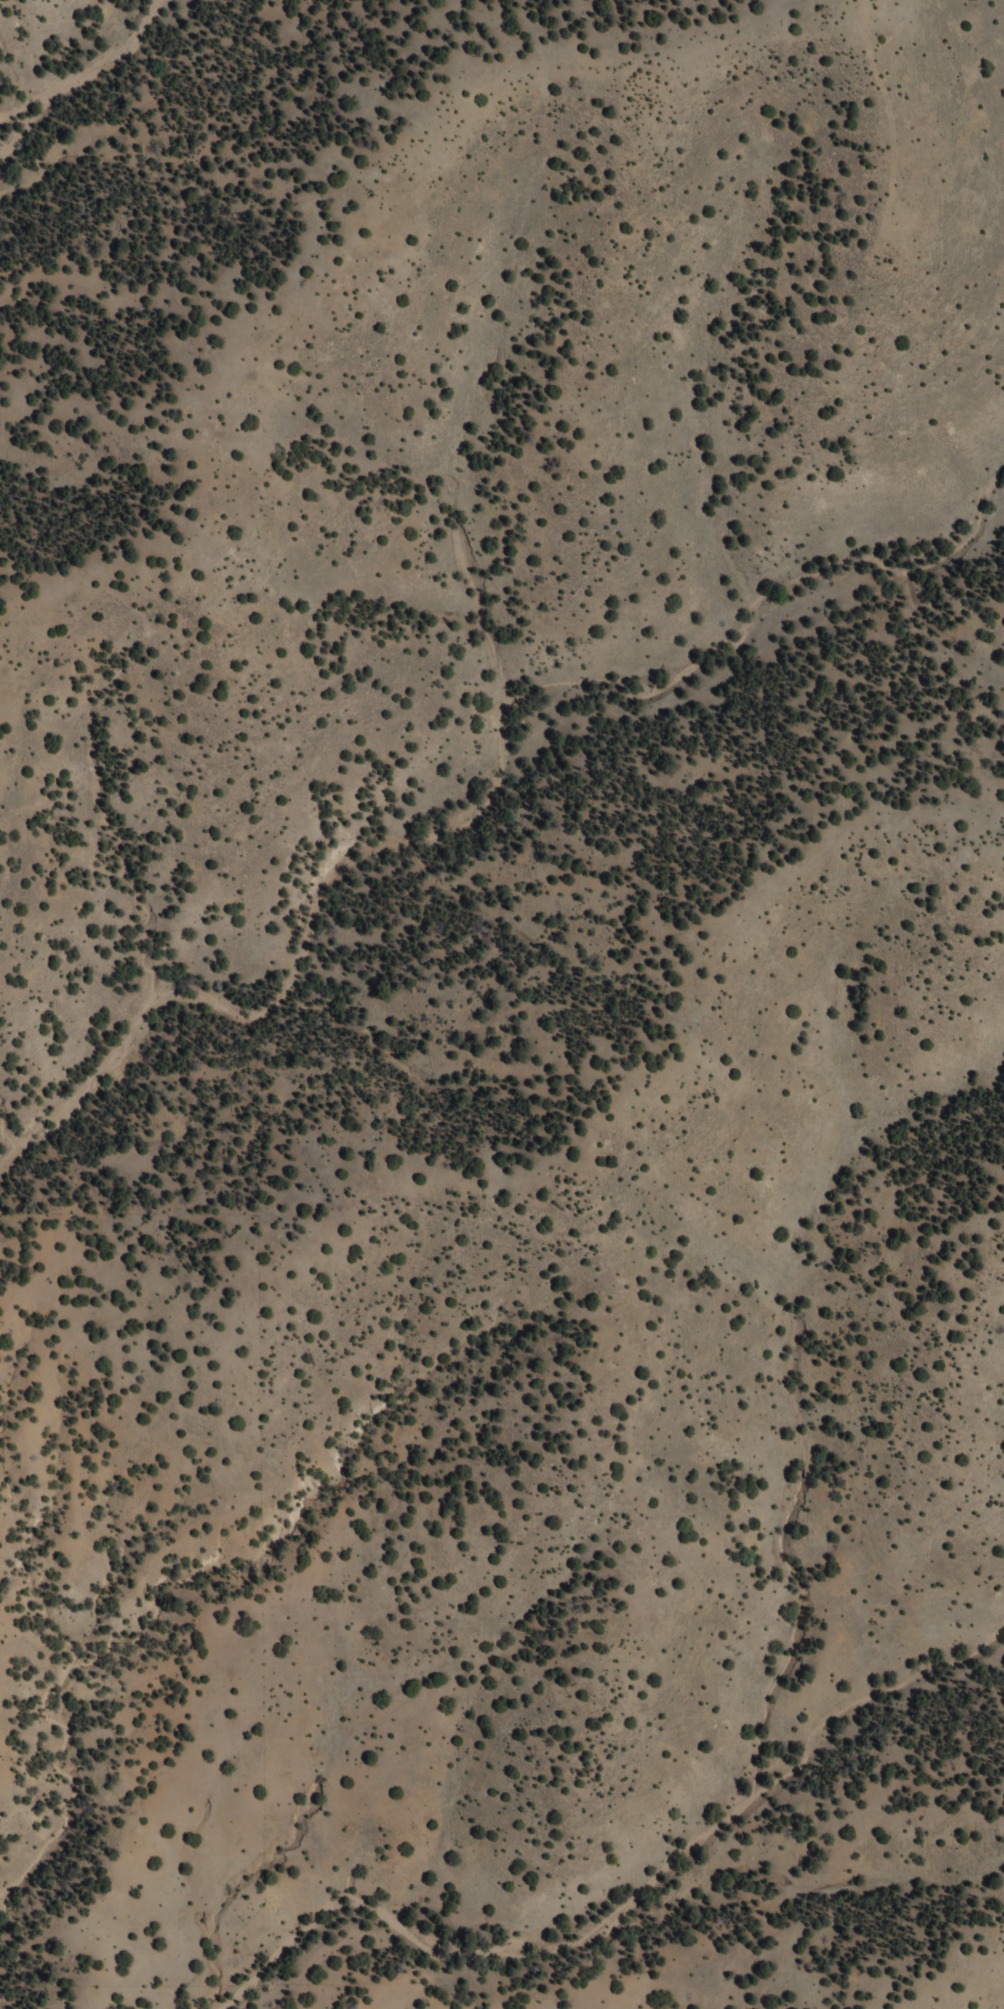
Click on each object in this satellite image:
road: (861, 2)
road: (635, 1979)

